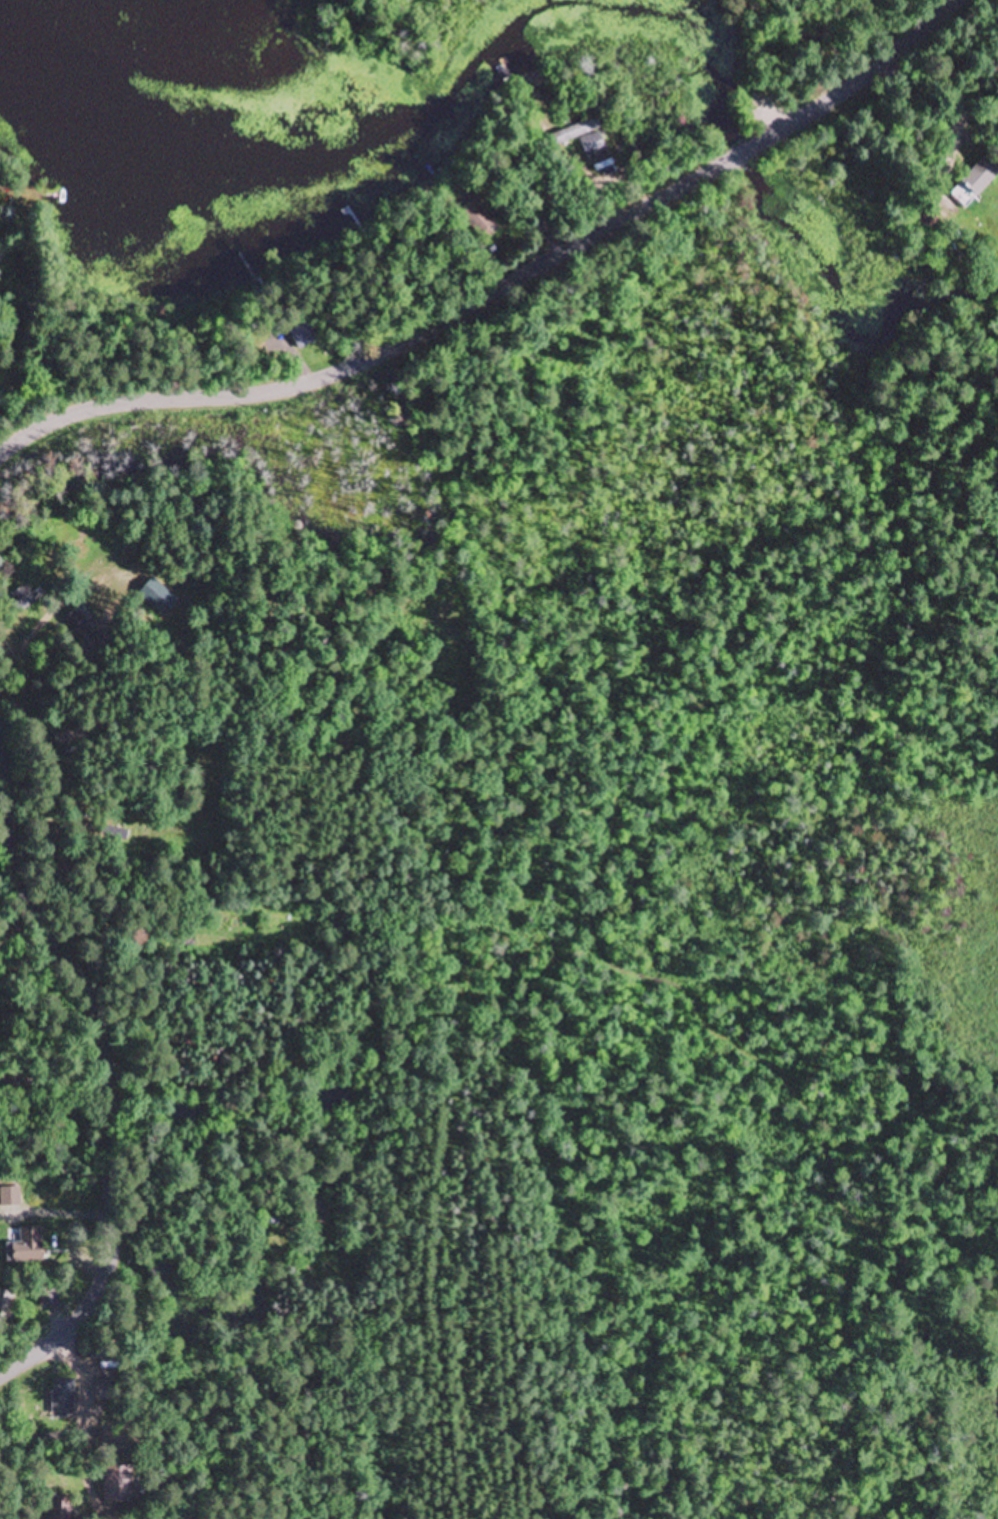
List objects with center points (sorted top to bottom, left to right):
building: (582, 138)
building: (975, 183)
building: (476, 217)
road: (504, 290)
building: (304, 336)
building: (22, 599)
building: (77, 628)
building: (114, 835)
road: (107, 1077)
building: (27, 1252)
building: (77, 1273)
building: (50, 1295)
building: (5, 1304)
building: (62, 1397)
road: (97, 1422)
building: (113, 1486)

